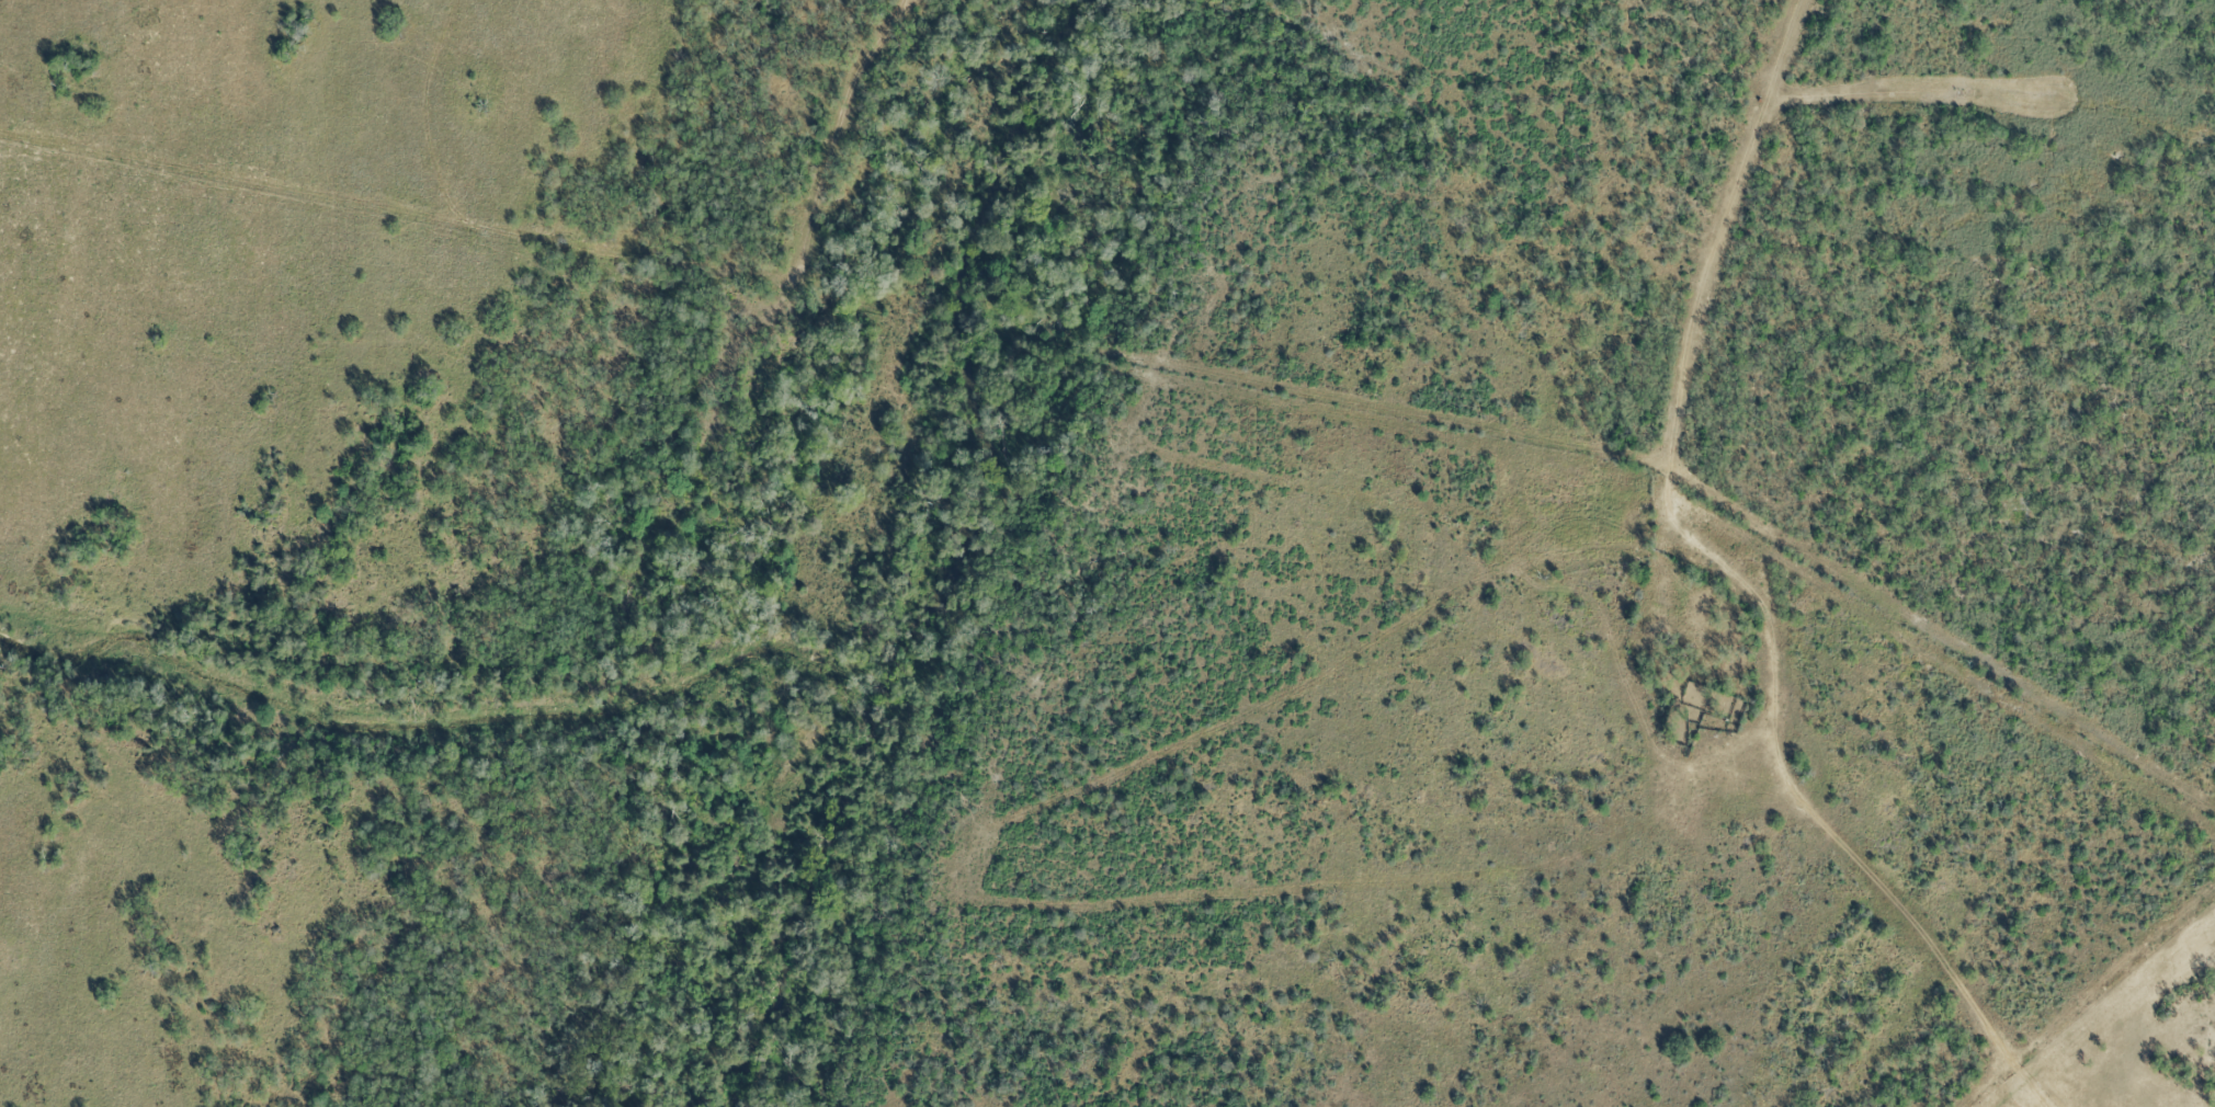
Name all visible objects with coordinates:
river: (961, 383)
river: (792, 928)
park: (2192, 1039)

